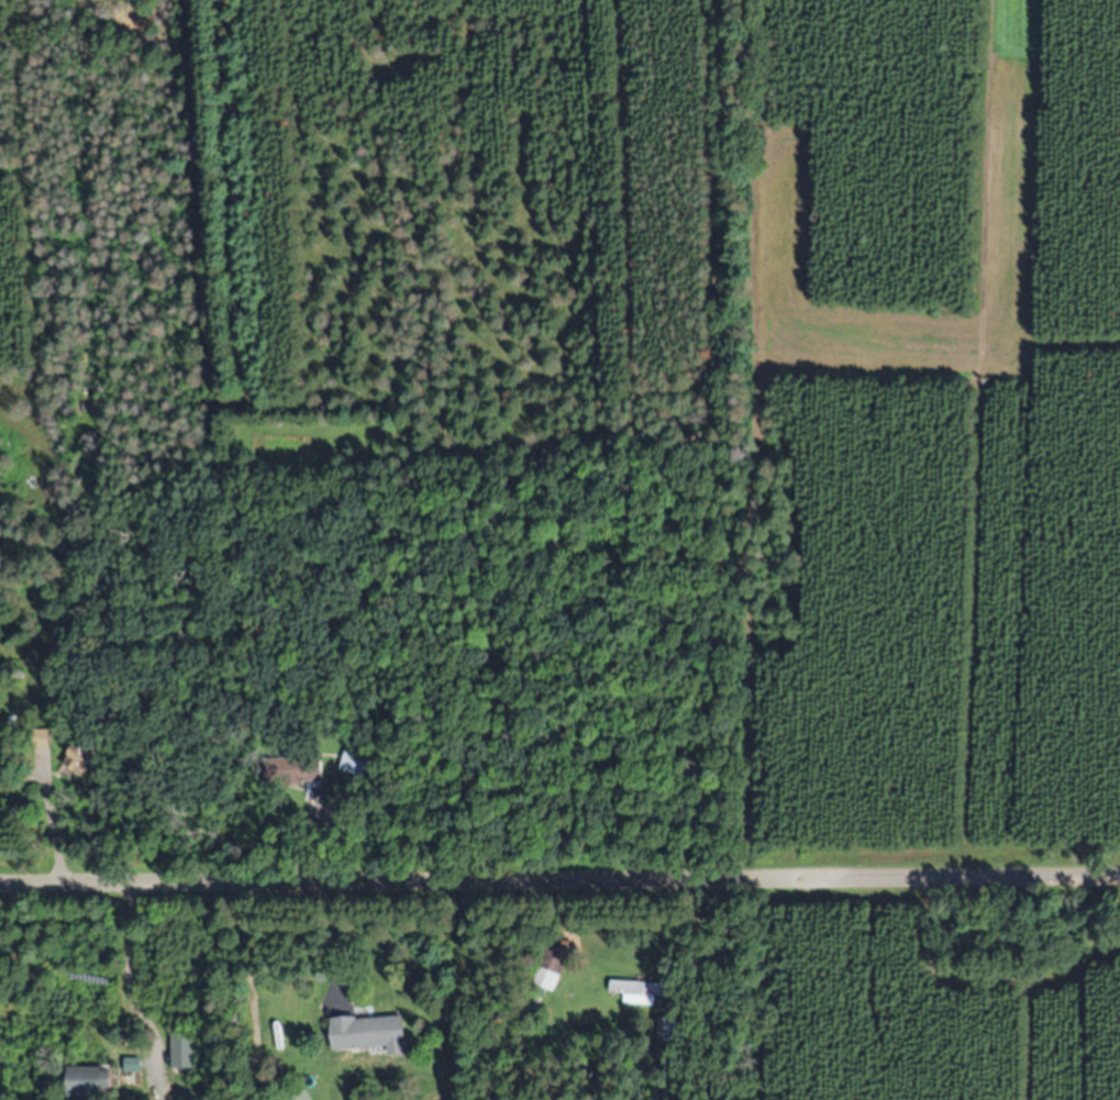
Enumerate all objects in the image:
building: (82, 752)
building: (1, 760)
building: (354, 764)
building: (302, 769)
road: (559, 876)
road: (126, 980)
building: (640, 990)
building: (666, 1029)
building: (372, 1032)
building: (184, 1051)
building: (87, 1080)
building: (302, 1096)

